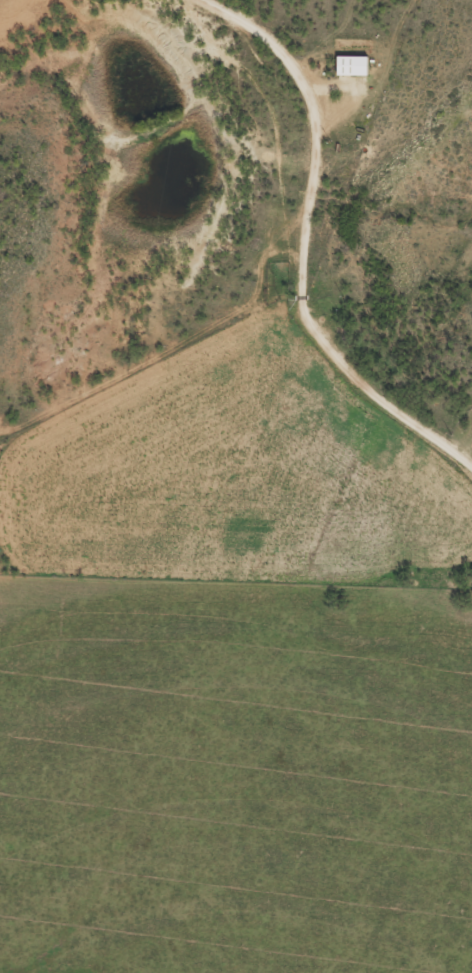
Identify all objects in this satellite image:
building: (352, 64)
road: (302, 245)

